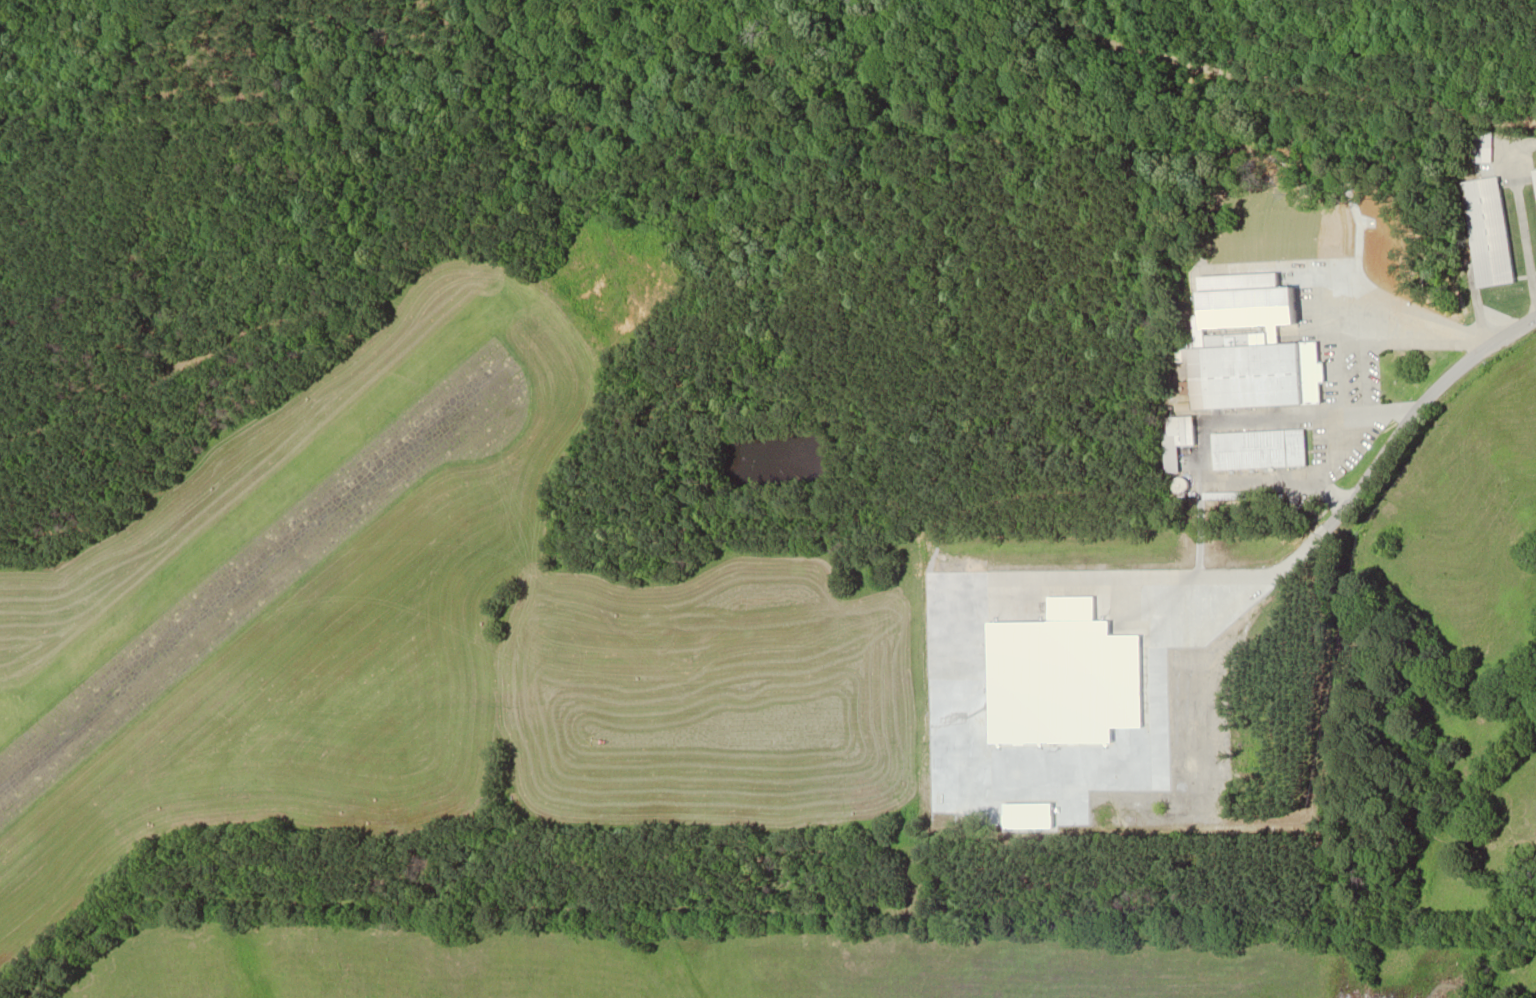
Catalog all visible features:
building: (1534, 176)
building: (1490, 231)
building: (1259, 372)
building: (1176, 441)
building: (1260, 449)
road: (1372, 464)
airport runway: (255, 571)
building: (937, 578)
building: (1065, 676)
airport taxiway: (46, 710)
building: (1029, 814)

